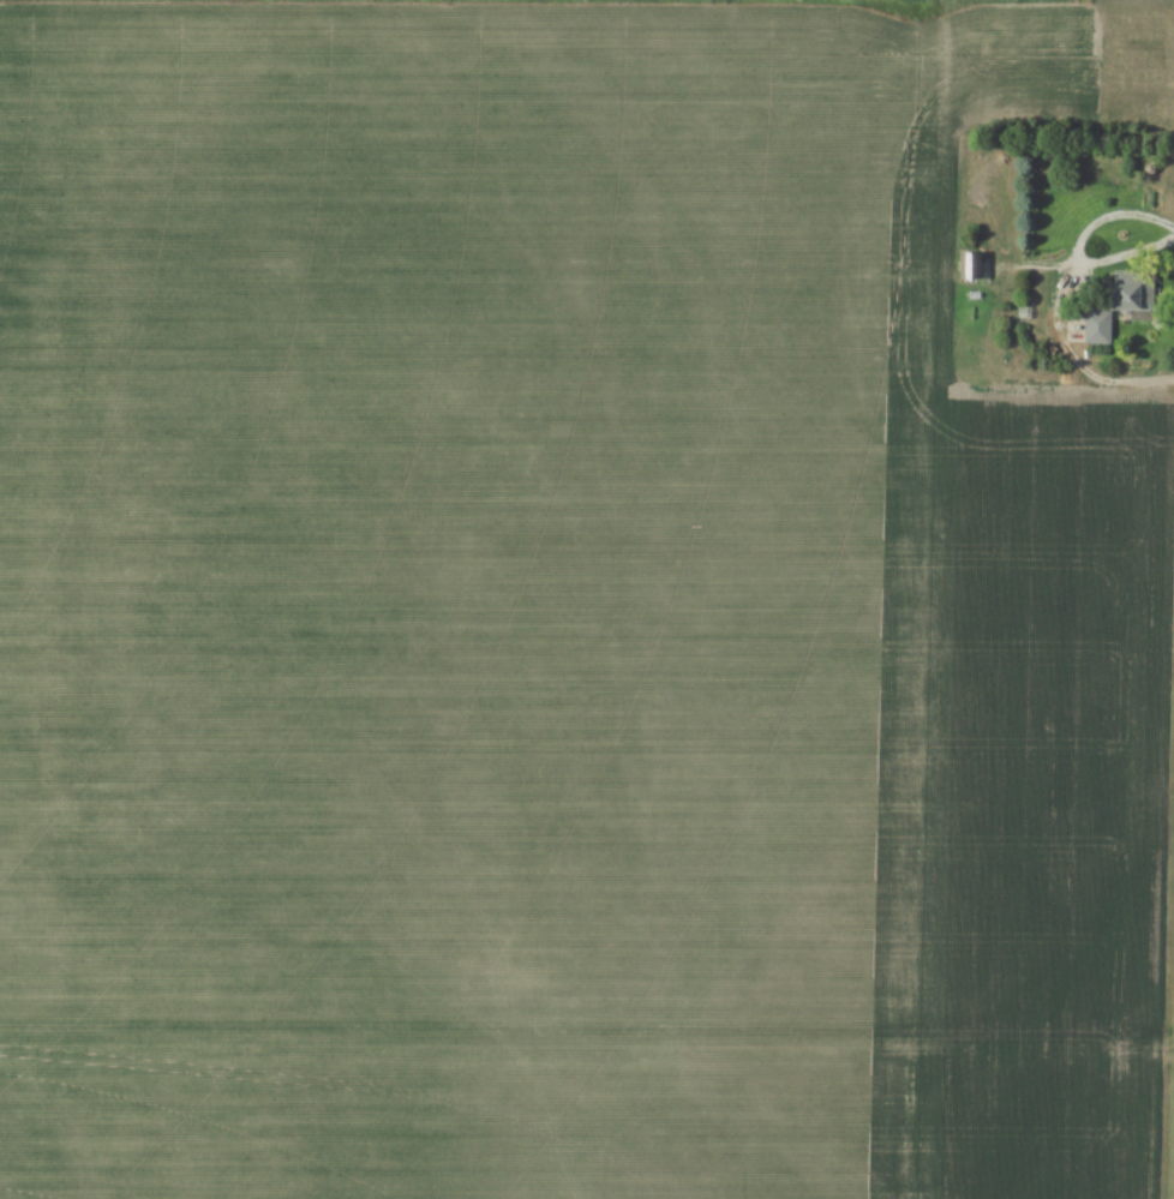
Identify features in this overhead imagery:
building: (968, 266)
building: (1114, 307)

